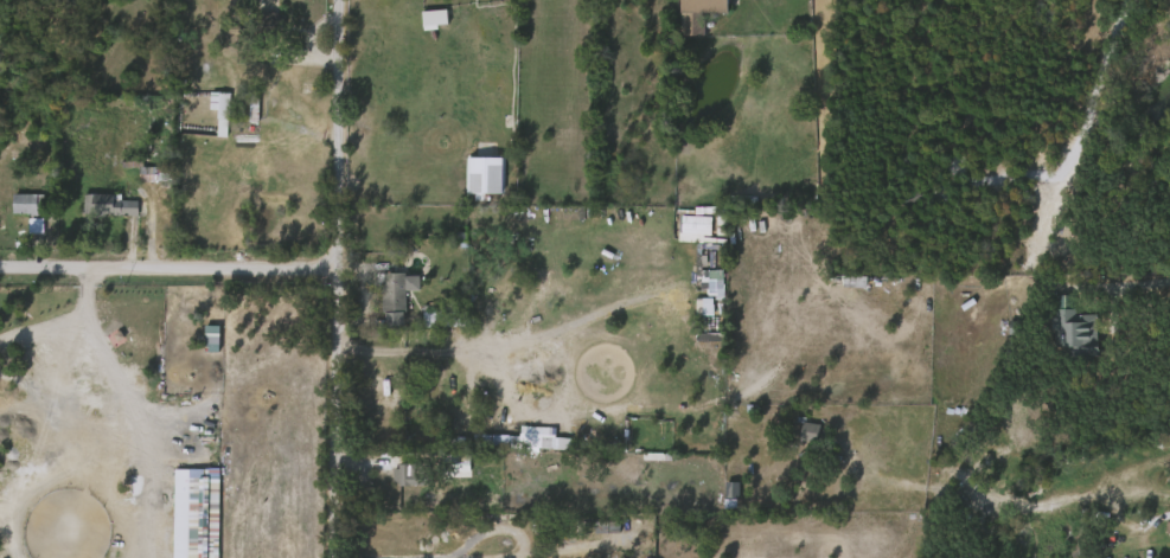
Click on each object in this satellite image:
building: (705, 13)
building: (270, 26)
building: (423, 30)
building: (220, 103)
building: (250, 108)
building: (153, 173)
building: (488, 177)
building: (473, 187)
building: (28, 204)
building: (110, 204)
building: (15, 214)
building: (97, 216)
road: (171, 272)
road: (341, 278)
road: (1112, 284)
building: (392, 293)
building: (703, 293)
building: (446, 319)
building: (1076, 336)
building: (200, 348)
road: (120, 412)
building: (797, 443)
building: (510, 451)
building: (411, 475)
building: (394, 486)
building: (190, 514)

